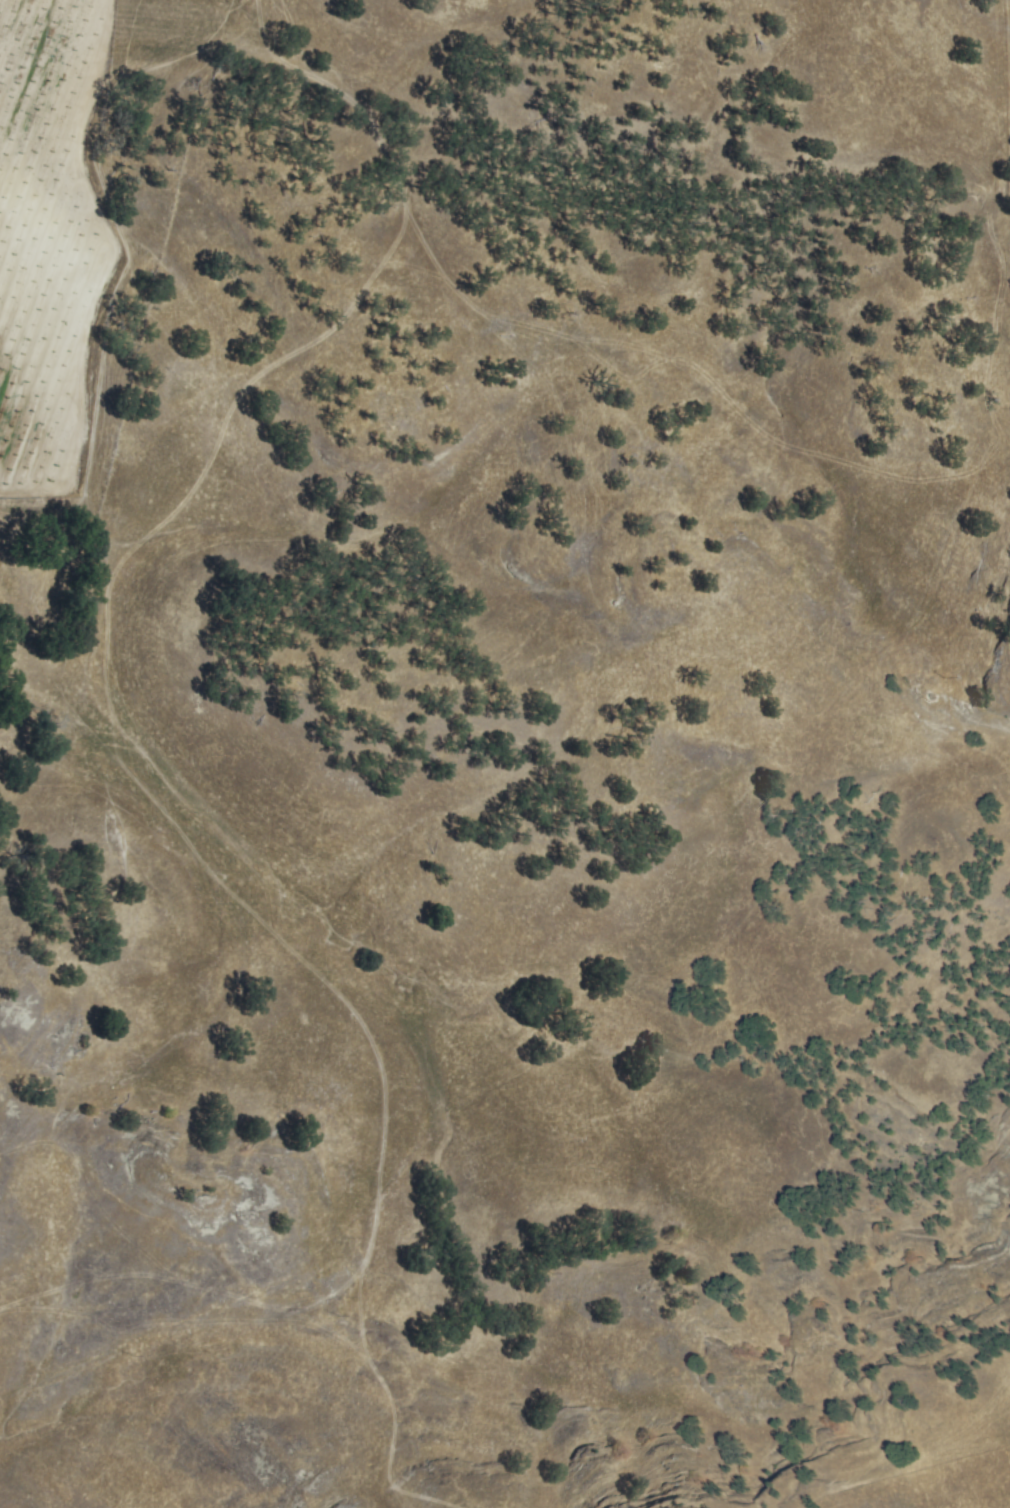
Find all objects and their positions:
crop: (83, 144)

